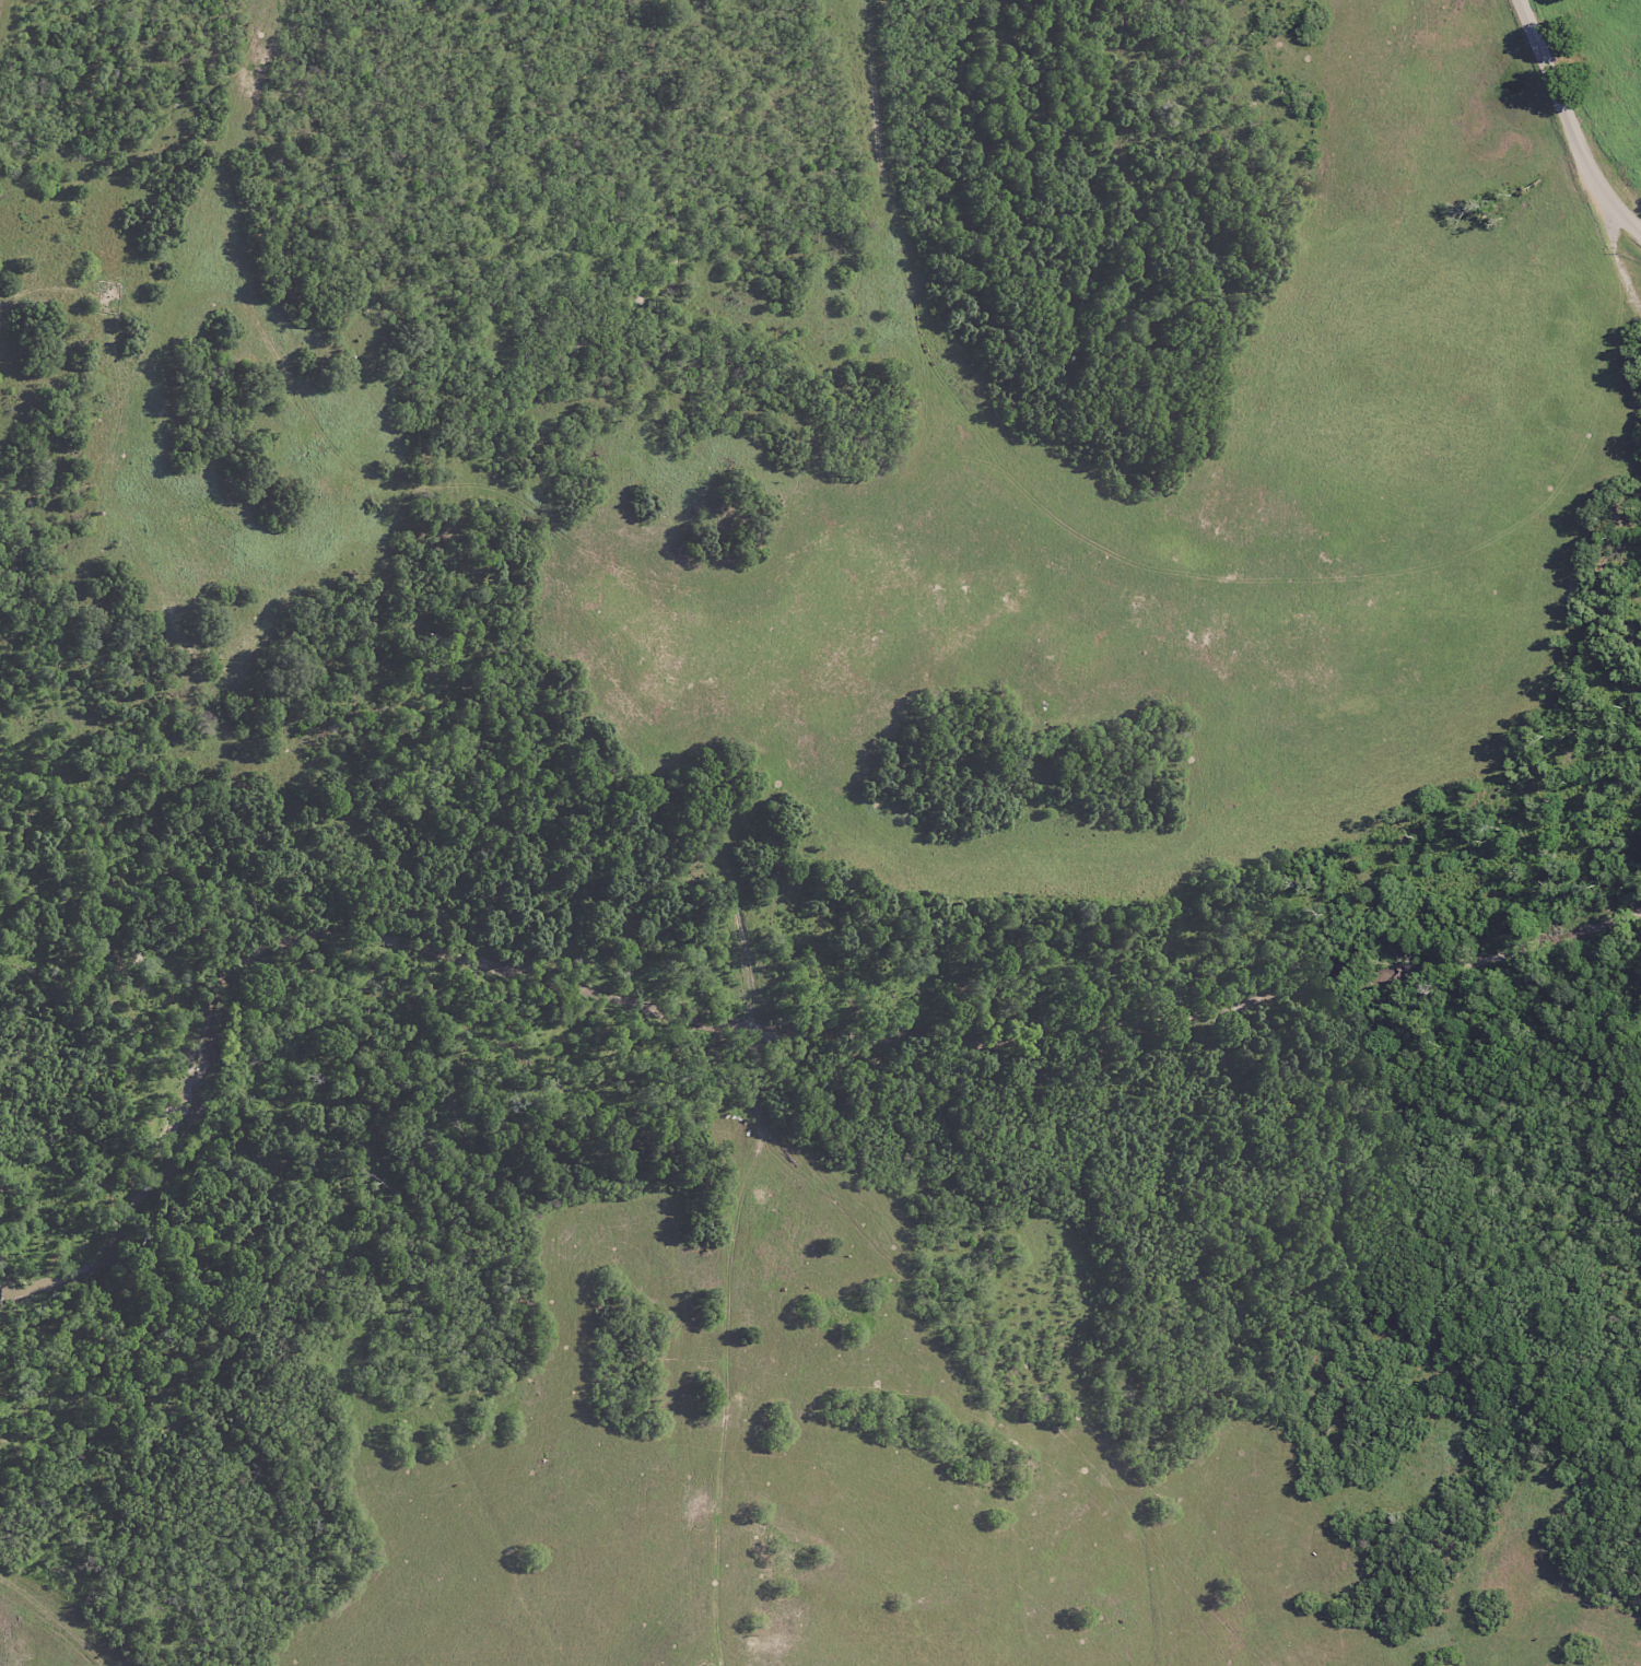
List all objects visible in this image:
road: (1572, 117)

